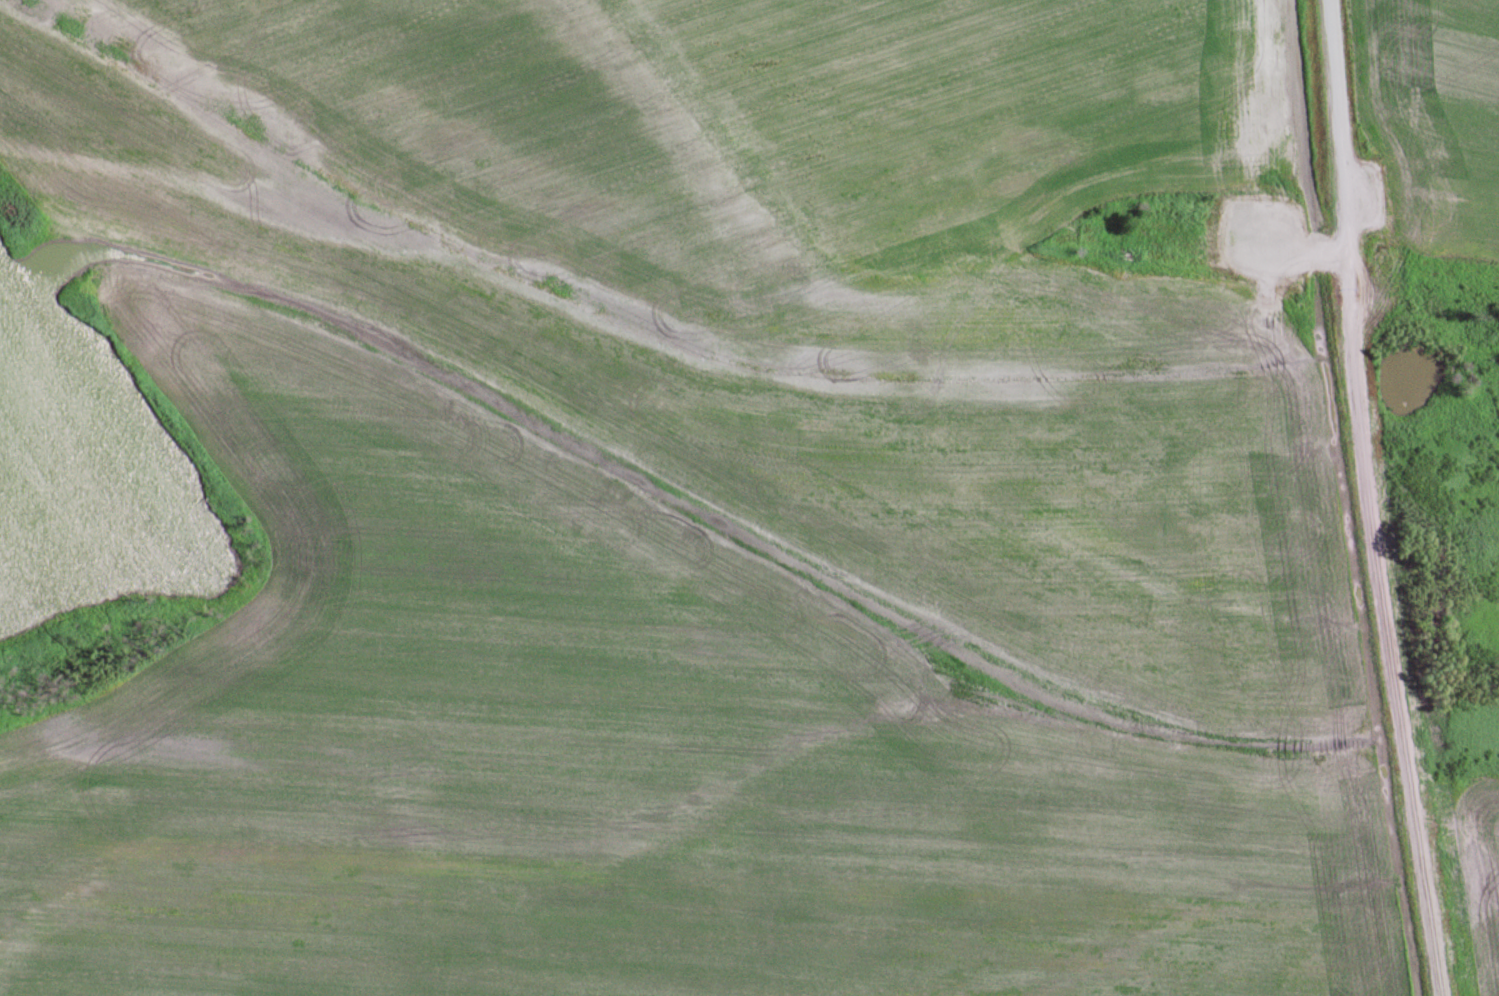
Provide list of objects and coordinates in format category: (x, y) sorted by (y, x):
road: (1367, 499)

